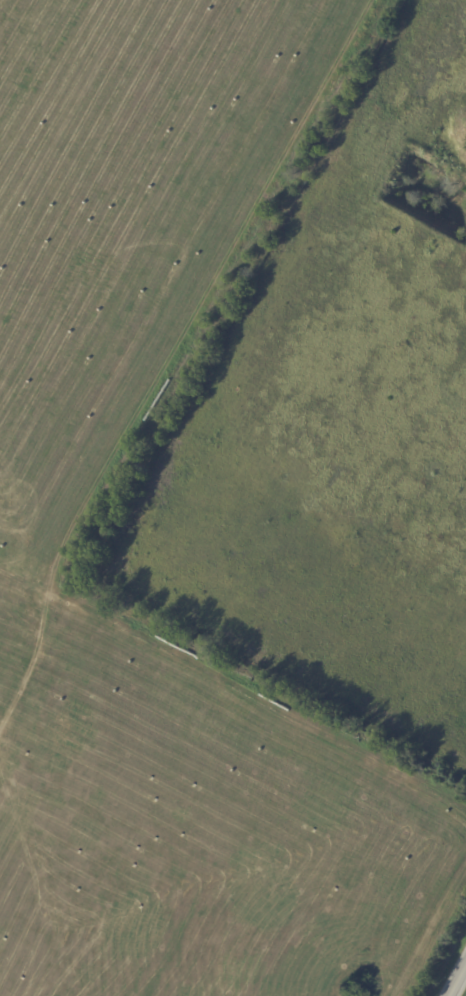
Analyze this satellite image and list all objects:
crop: (116, 289)
road: (460, 986)

